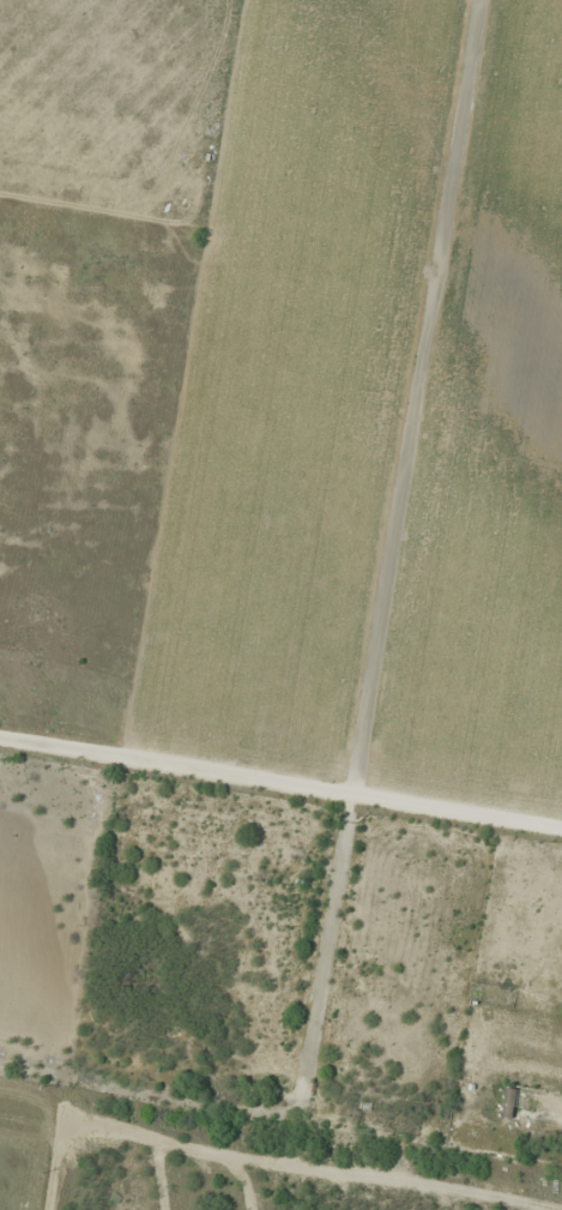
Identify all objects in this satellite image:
building: (176, 1028)
building: (531, 1106)
road: (250, 1169)

